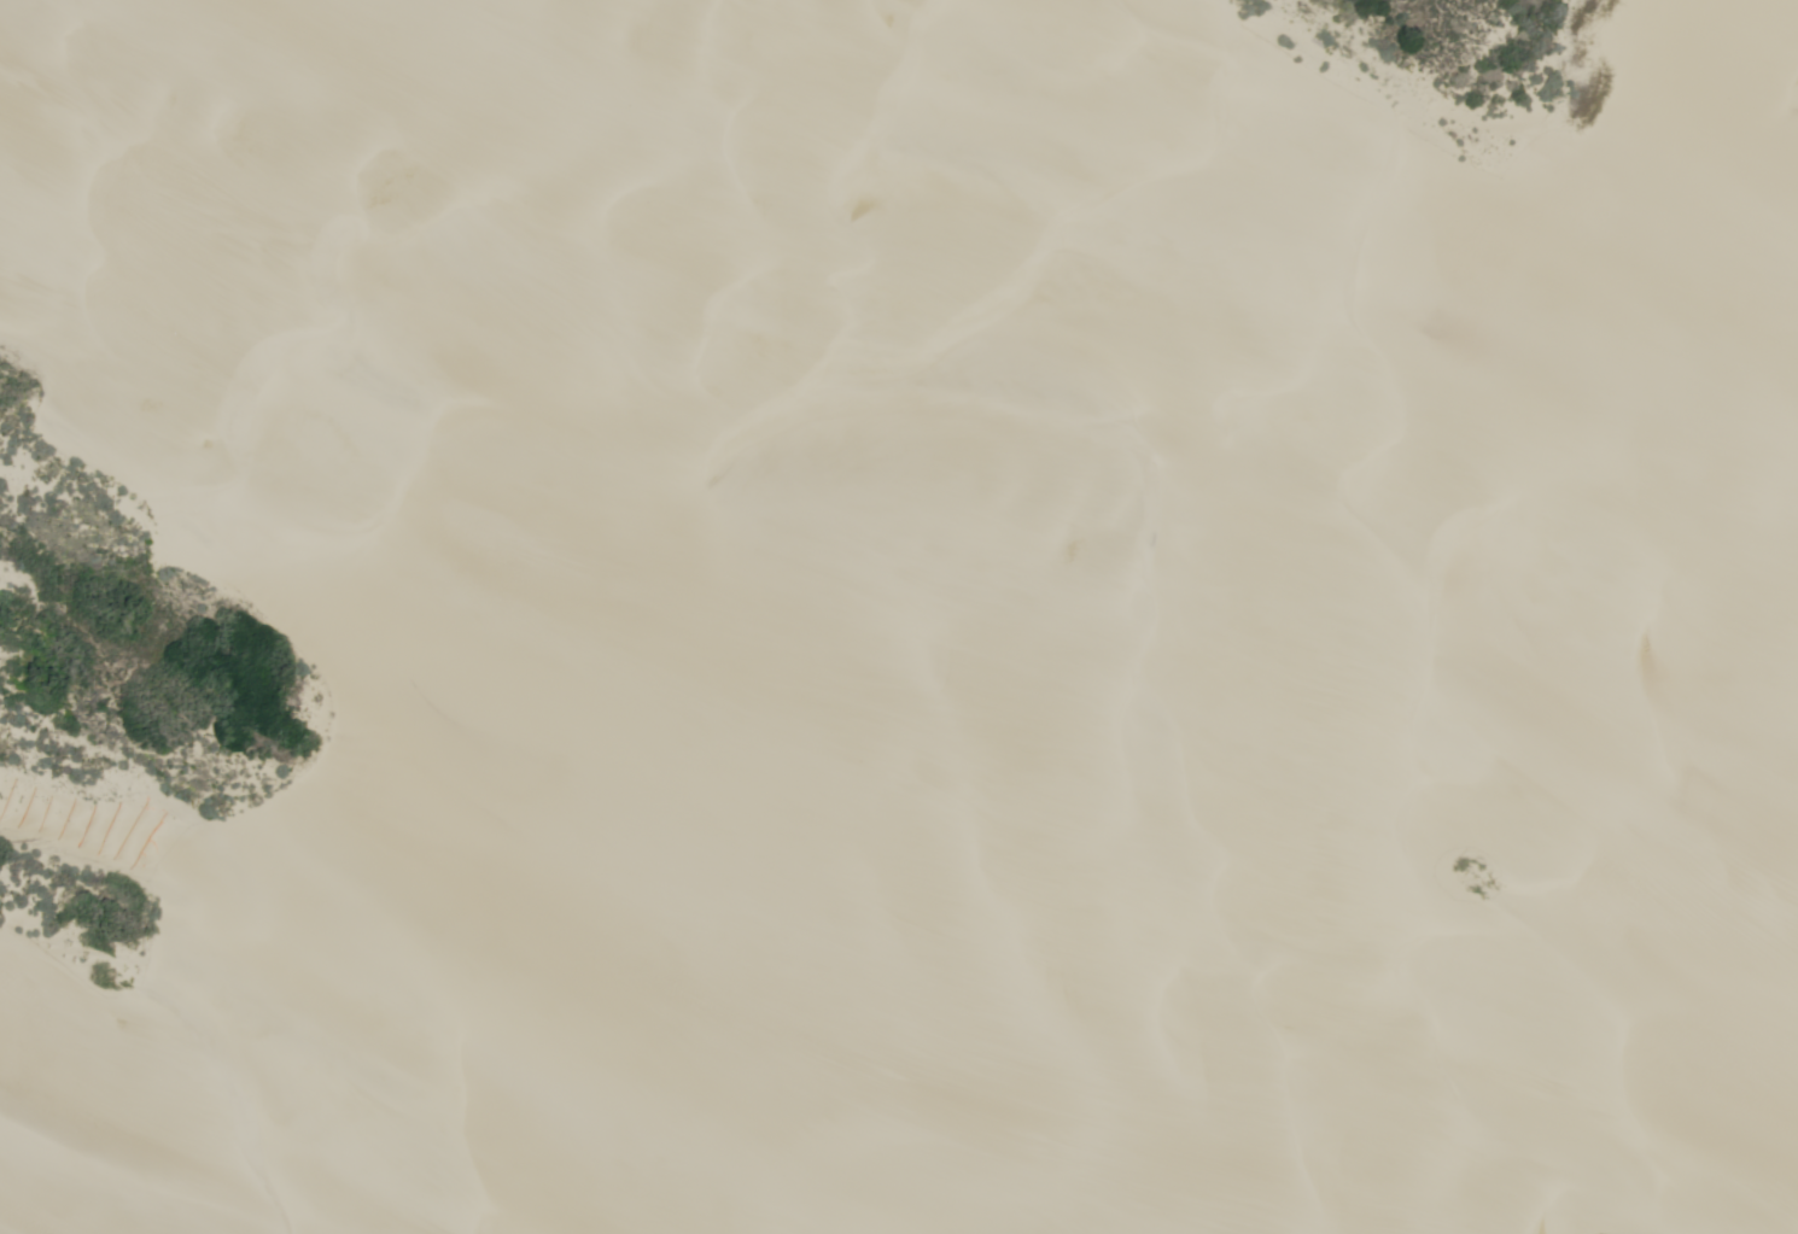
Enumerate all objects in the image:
road: (662, 601)
park: (899, 616)

